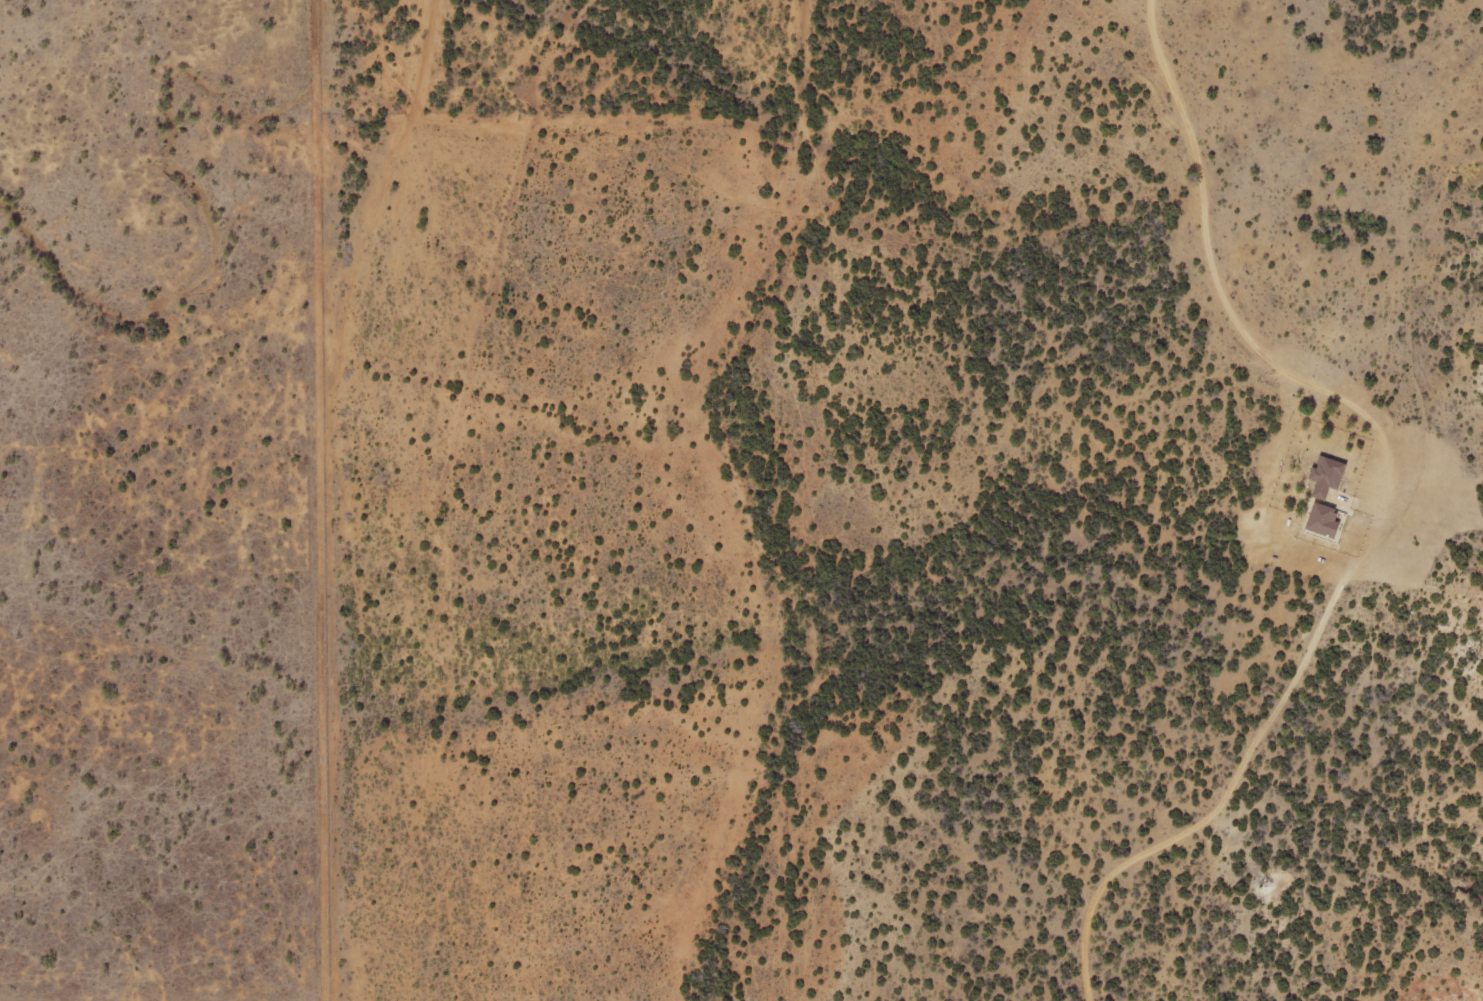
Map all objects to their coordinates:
building: (1325, 477)

